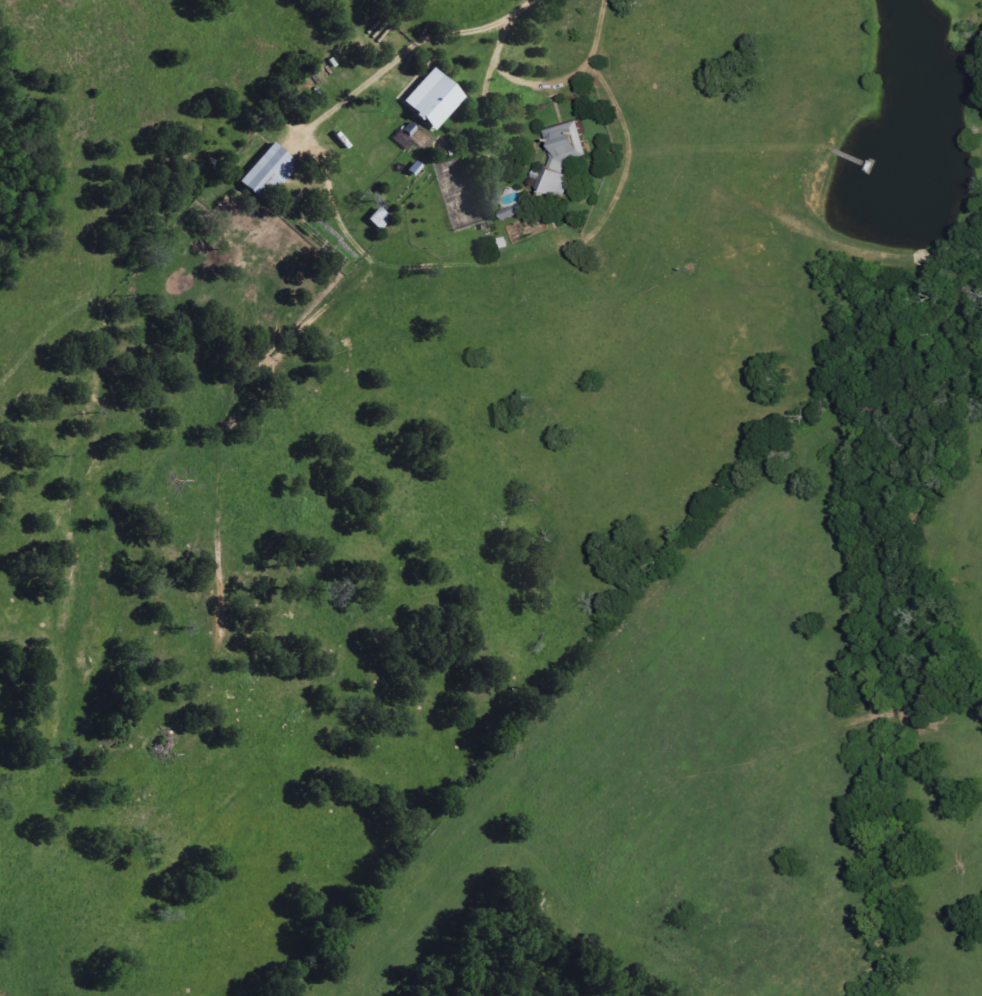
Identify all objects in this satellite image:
building: (432, 100)
building: (561, 159)
building: (267, 173)
building: (378, 219)

